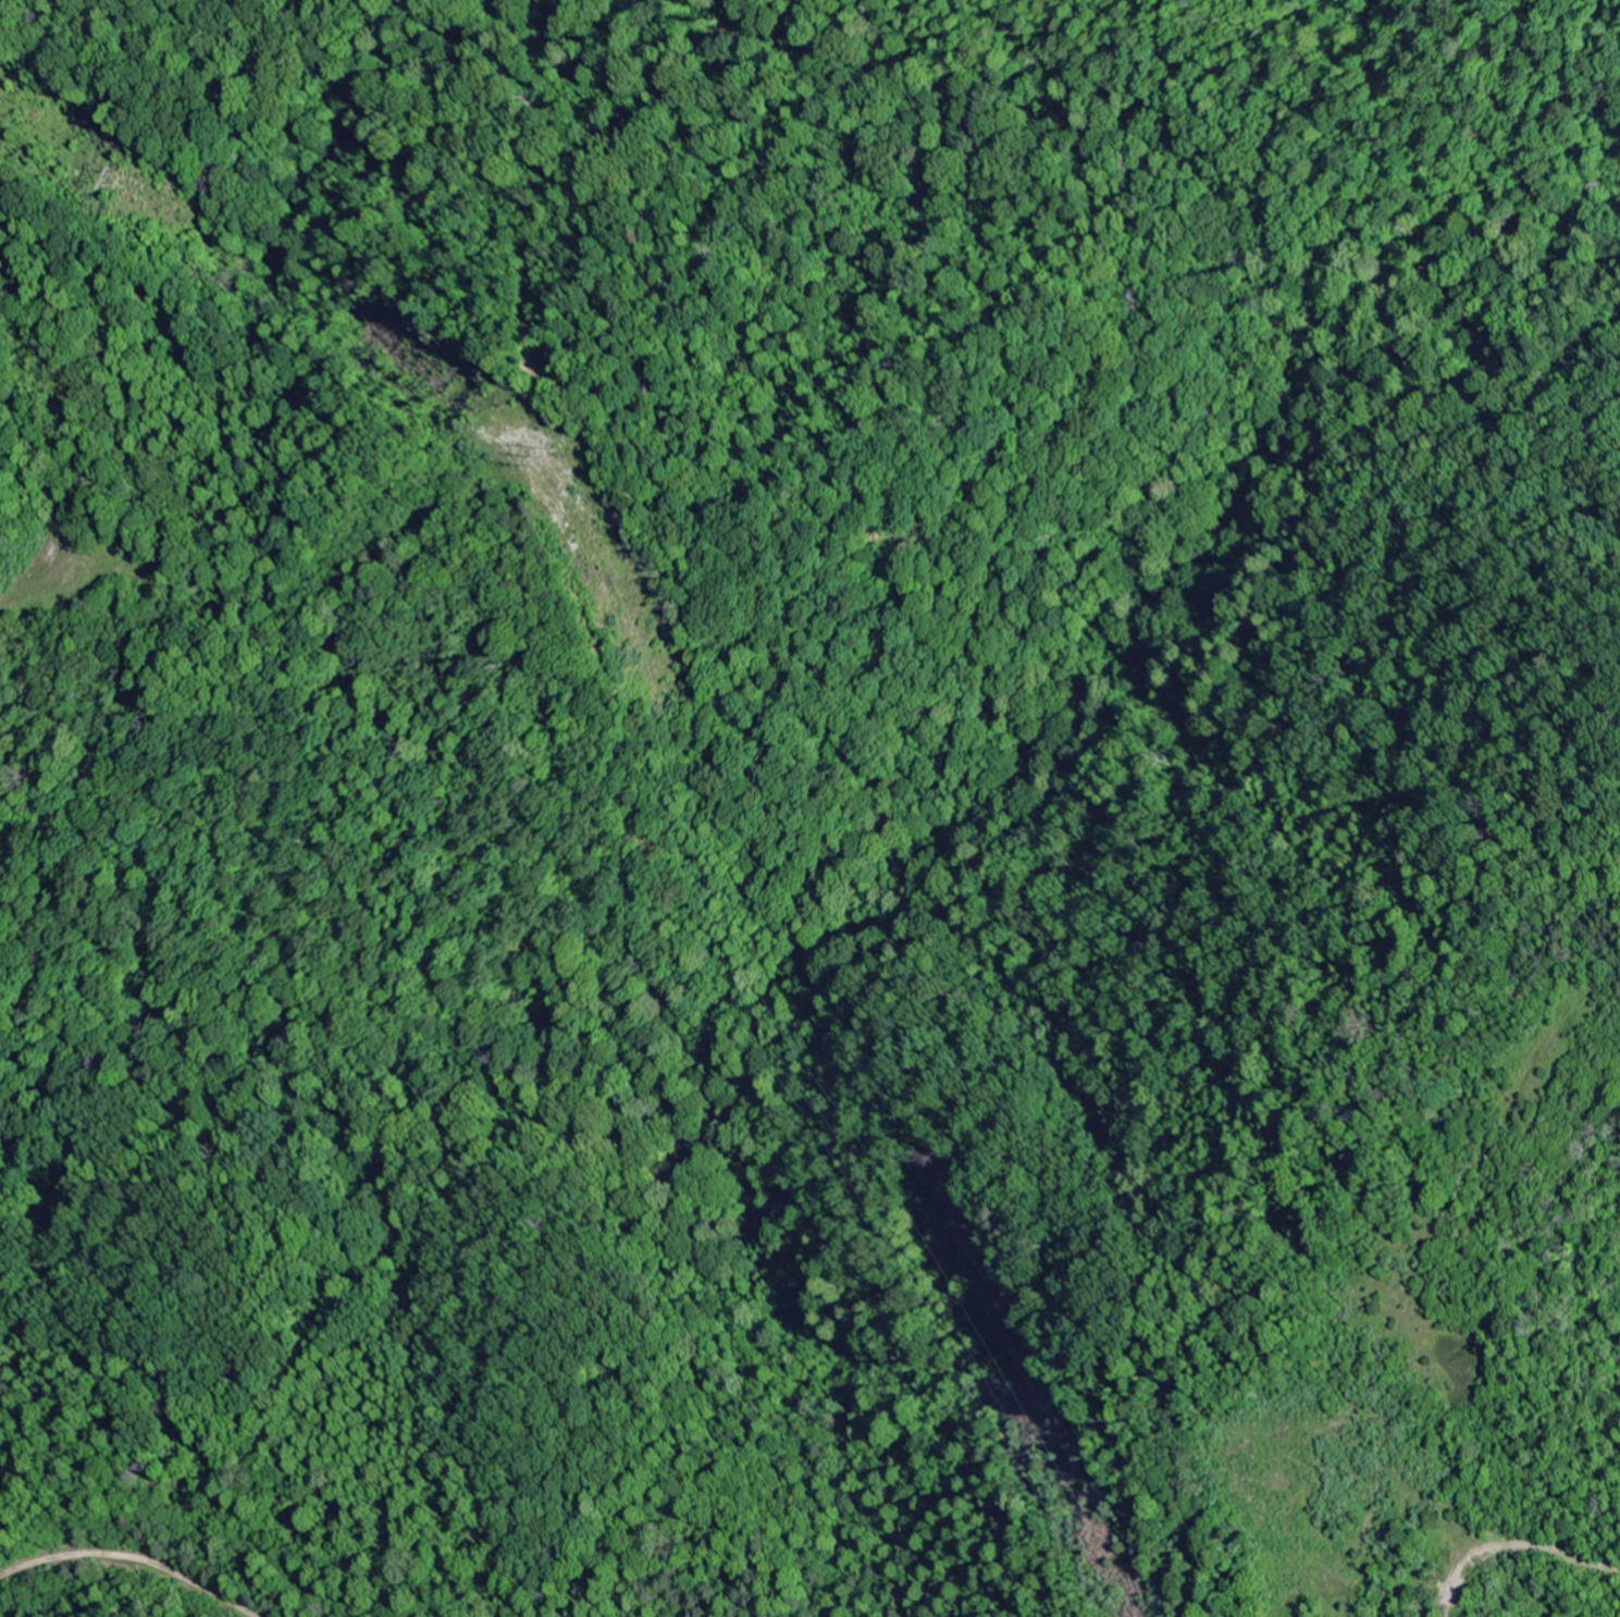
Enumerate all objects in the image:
road: (131, 1508)

